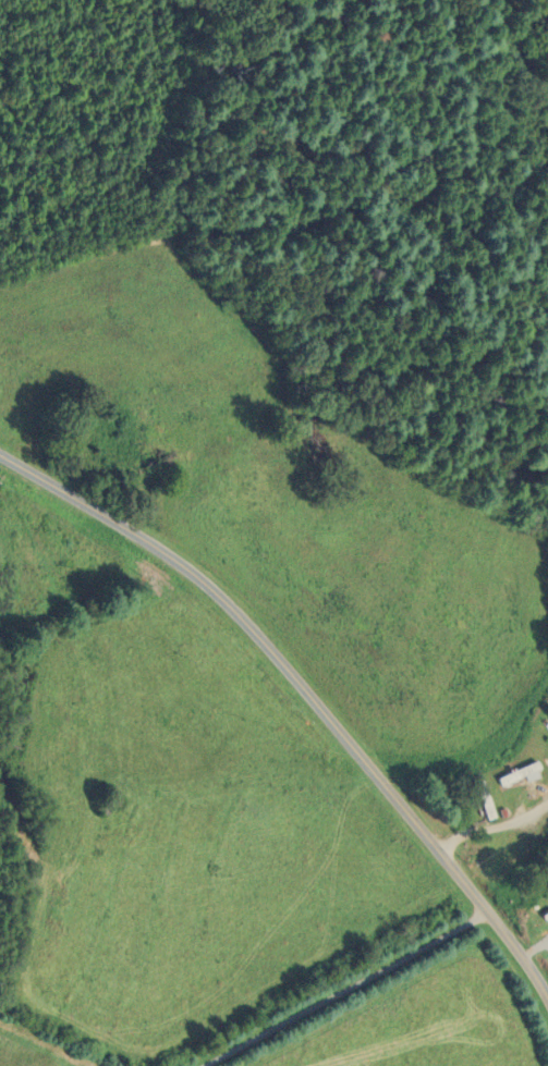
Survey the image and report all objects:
road: (305, 698)
building: (508, 773)
building: (474, 798)
road: (340, 988)

